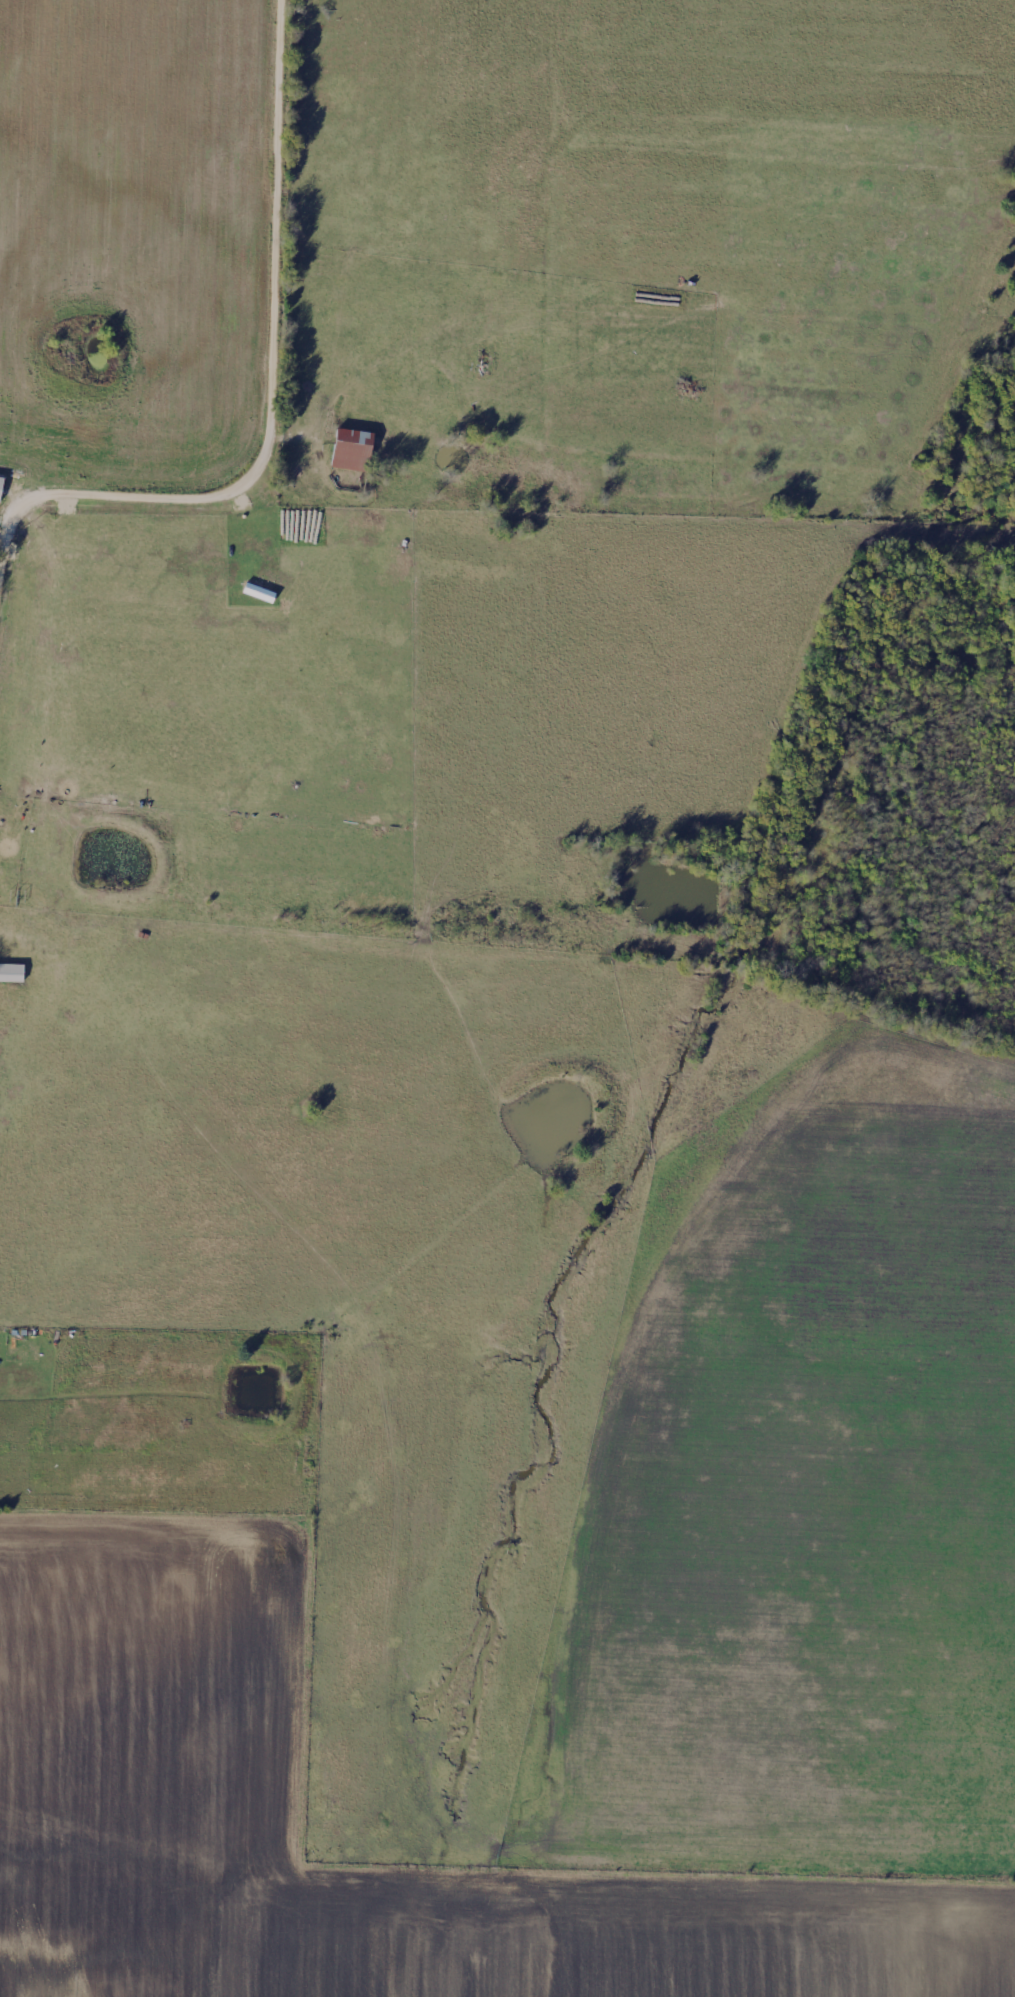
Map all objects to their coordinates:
building: (353, 450)
road: (273, 472)
building: (1, 487)
building: (12, 974)

